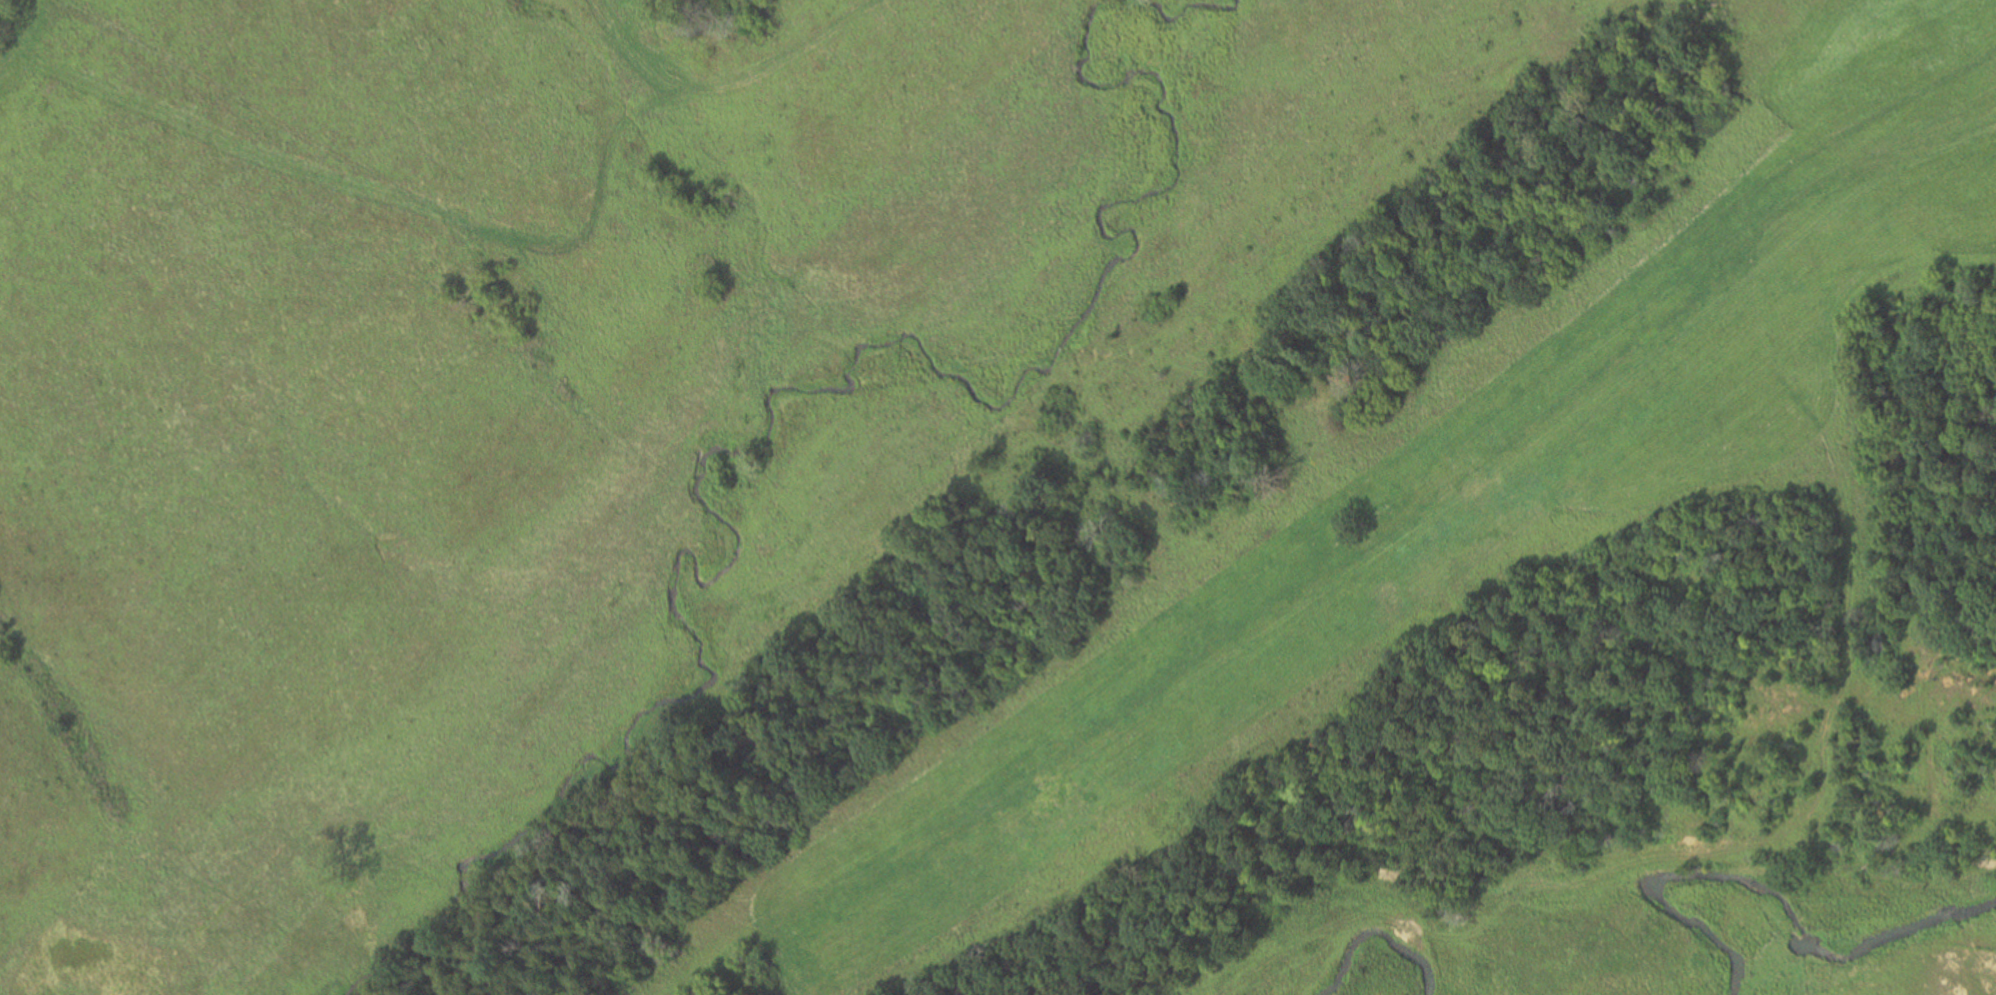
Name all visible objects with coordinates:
road: (713, 83)

